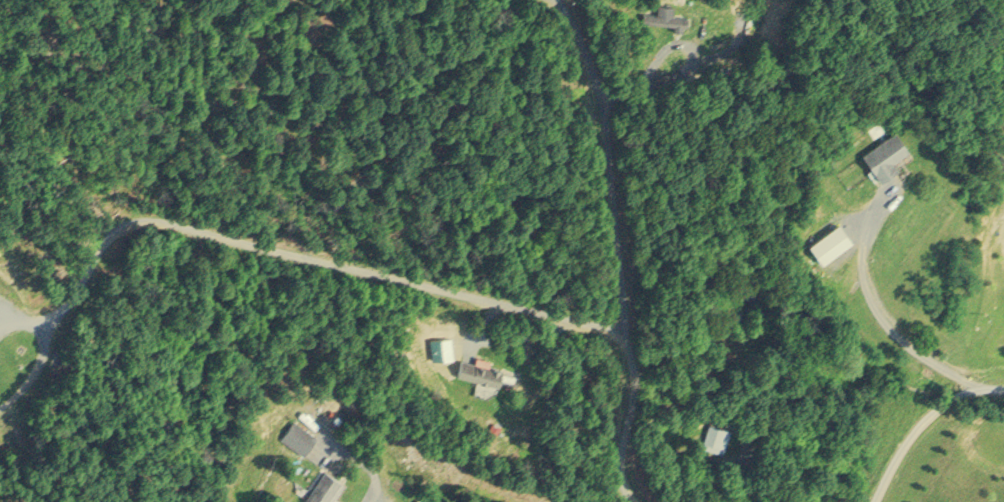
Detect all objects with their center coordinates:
building: (663, 14)
building: (884, 151)
building: (829, 240)
road: (296, 248)
road: (616, 248)
road: (875, 310)
building: (479, 371)
road: (915, 416)
building: (297, 434)
building: (715, 435)

